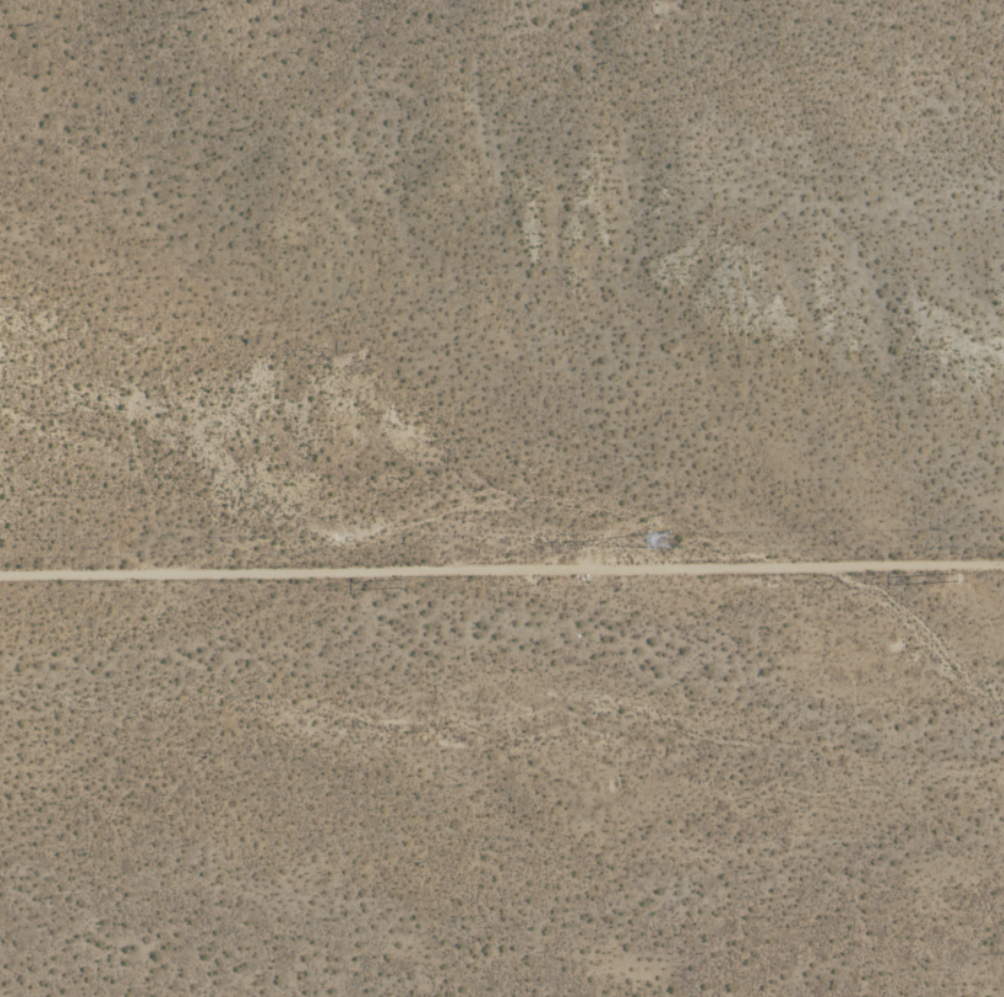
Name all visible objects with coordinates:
power tower: (674, 539)
power tower: (942, 581)
power tower: (414, 586)

